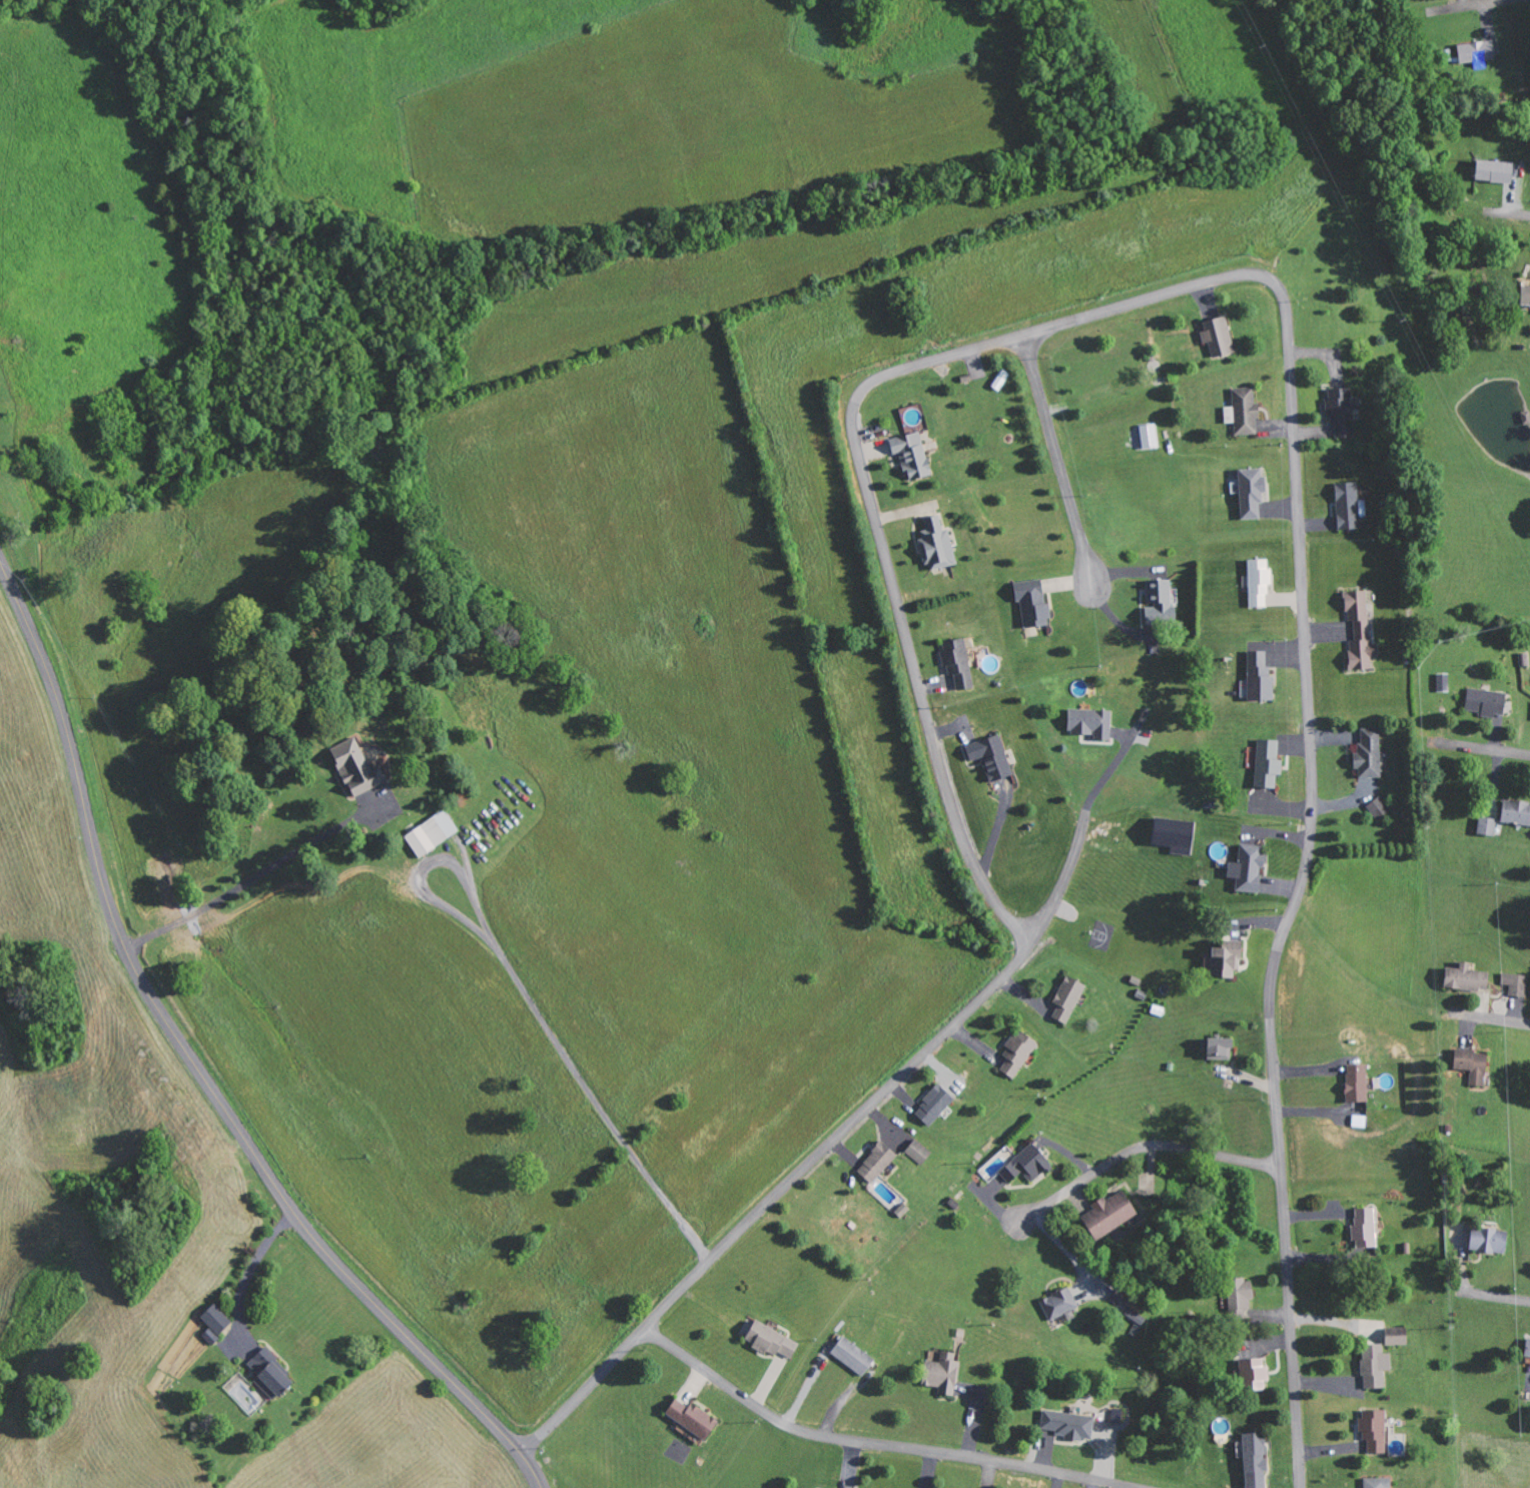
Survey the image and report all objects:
road: (1481, 6)
building: (1477, 52)
building: (1495, 171)
road: (1512, 215)
building: (1526, 295)
road: (1059, 329)
building: (1218, 336)
building: (1243, 410)
building: (1341, 411)
building: (1149, 435)
building: (911, 454)
road: (1060, 464)
building: (1252, 492)
building: (1348, 505)
building: (937, 544)
building: (1259, 583)
building: (1159, 600)
building: (1032, 603)
building: (1360, 630)
building: (958, 662)
building: (1259, 675)
road: (917, 681)
building: (1444, 681)
building: (1486, 701)
building: (1091, 723)
road: (1482, 750)
building: (1369, 753)
building: (991, 757)
building: (1268, 763)
building: (357, 768)
building: (1380, 807)
building: (1516, 811)
building: (1488, 825)
building: (431, 833)
building: (1174, 835)
building: (1247, 869)
road: (1301, 881)
building: (1225, 962)
building: (1467, 978)
building: (1516, 984)
building: (1068, 999)
road: (1492, 1020)
building: (1218, 1048)
building: (1018, 1053)
building: (1472, 1065)
road: (196, 1067)
building: (1357, 1083)
road: (889, 1089)
road: (594, 1097)
building: (934, 1105)
building: (1360, 1121)
road: (1137, 1150)
building: (919, 1152)
building: (877, 1162)
building: (995, 1165)
building: (1027, 1165)
building: (1110, 1214)
building: (1365, 1227)
building: (1489, 1240)
building: (1242, 1296)
road: (1498, 1298)
building: (1059, 1304)
building: (215, 1322)
building: (771, 1341)
building: (1528, 1349)
building: (853, 1356)
building: (1375, 1366)
building: (942, 1373)
building: (268, 1374)
road: (583, 1394)
building: (692, 1418)
building: (1068, 1425)
building: (1375, 1430)
road: (870, 1443)
building: (1255, 1460)
building: (1378, 1483)

